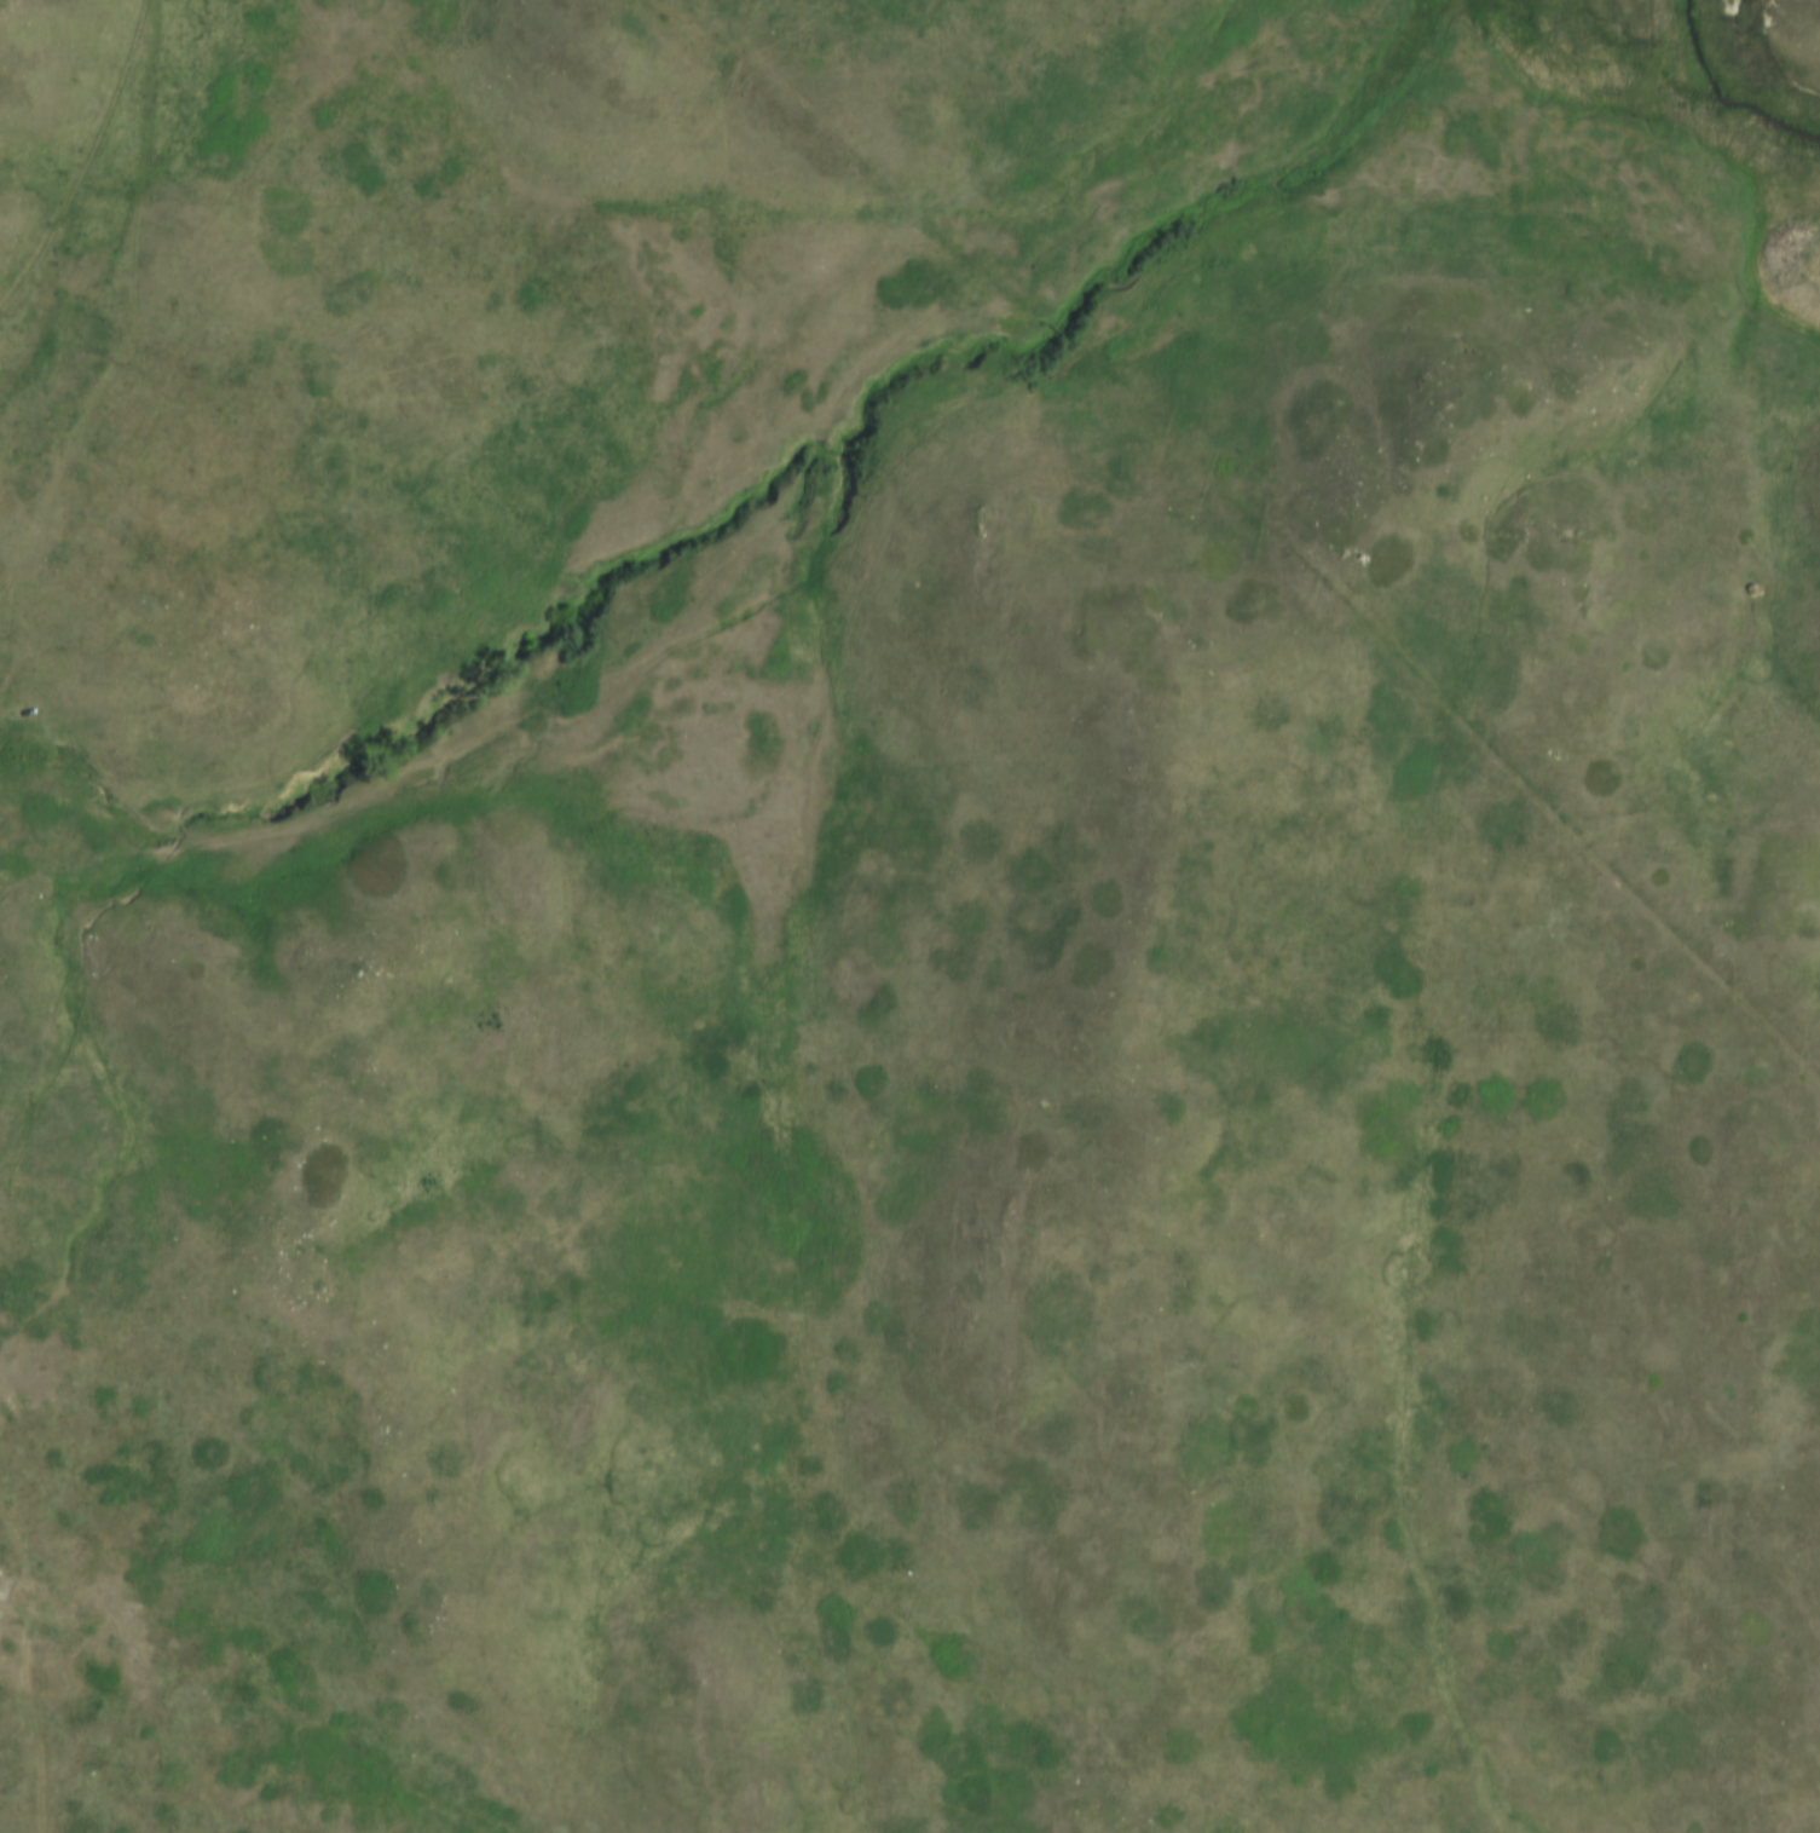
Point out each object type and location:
road: (88, 167)
road: (37, 1660)

